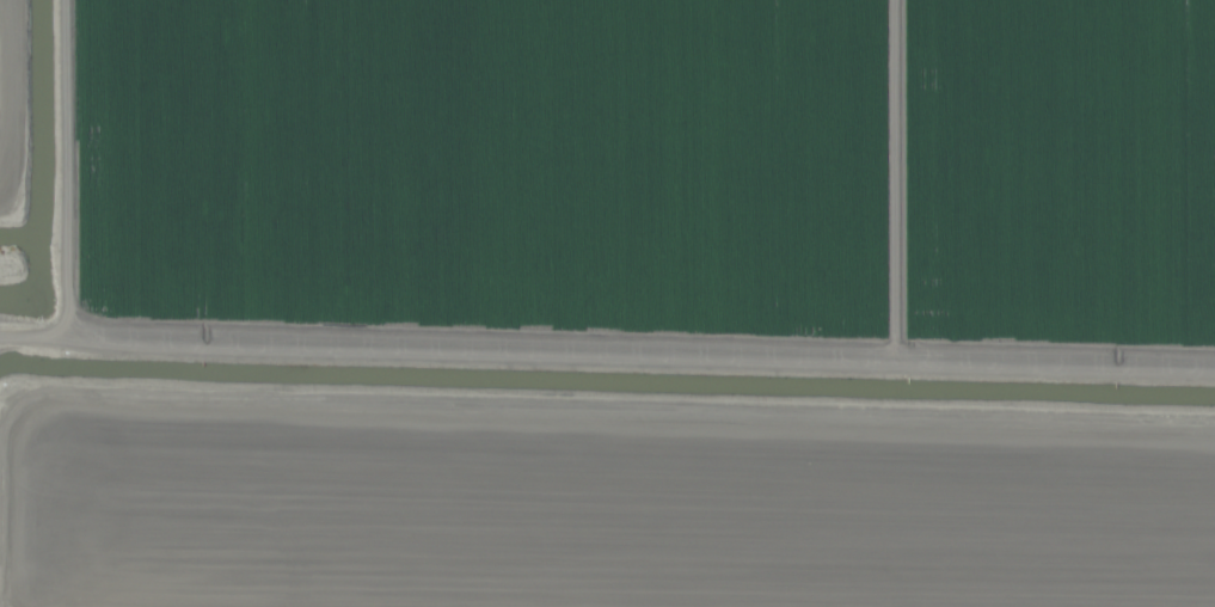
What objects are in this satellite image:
crop: (607, 303)

